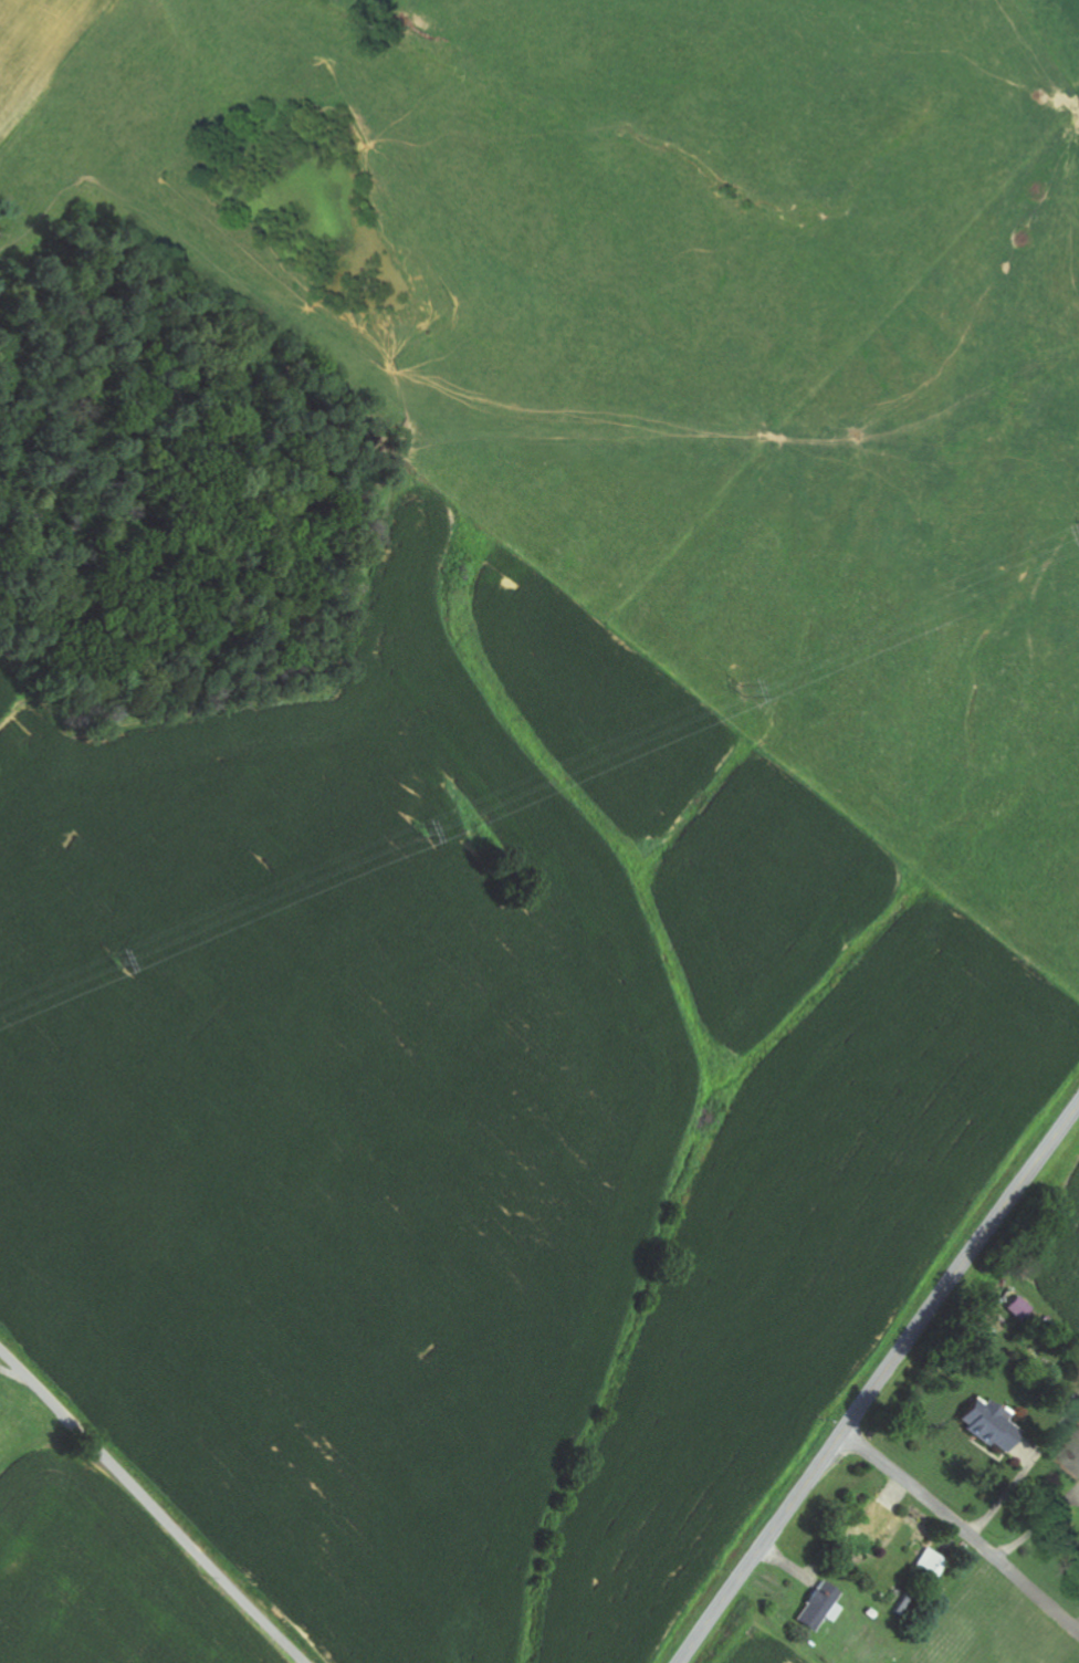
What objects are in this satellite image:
building: (1016, 1308)
road: (878, 1380)
building: (991, 1425)
road: (150, 1507)
road: (963, 1529)
building: (932, 1565)

